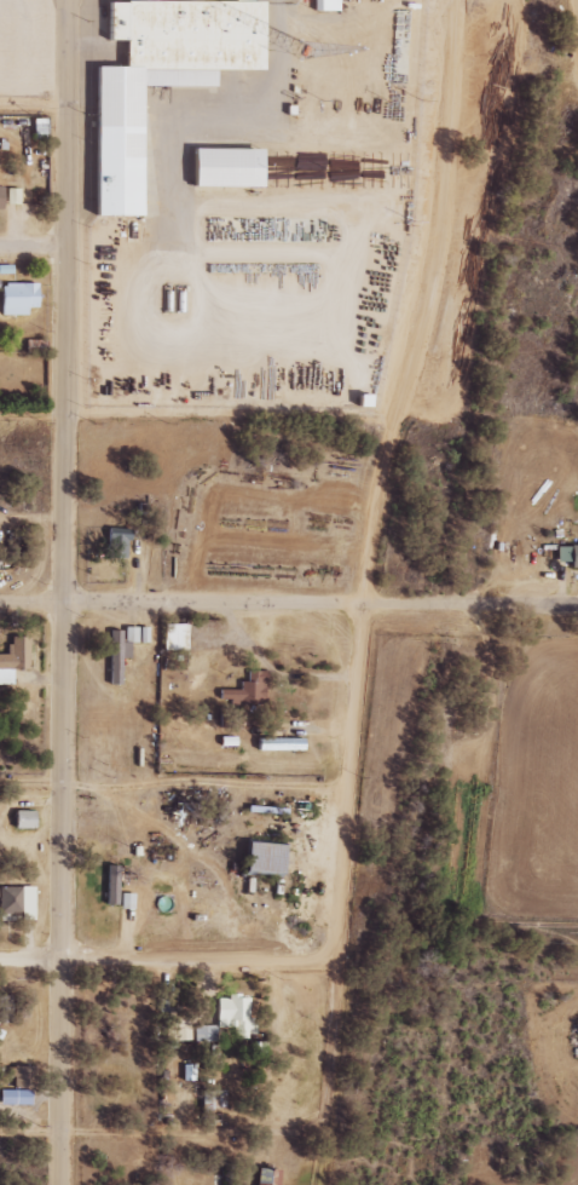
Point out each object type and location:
building: (322, 5)
building: (341, 7)
building: (177, 75)
road: (34, 109)
building: (238, 167)
building: (10, 196)
road: (33, 247)
building: (17, 298)
building: (376, 403)
road: (196, 420)
road: (378, 478)
building: (114, 543)
building: (567, 554)
road: (65, 592)
railway: (447, 592)
road: (289, 599)
building: (172, 637)
building: (120, 648)
building: (12, 658)
building: (244, 691)
building: (278, 744)
road: (31, 787)
building: (19, 819)
building: (260, 859)
building: (110, 886)
building: (8, 902)
building: (125, 902)
road: (168, 960)
building: (5, 1009)
building: (235, 1016)
building: (175, 1028)
building: (204, 1034)
building: (19, 1077)
building: (13, 1097)
building: (212, 1100)
road: (30, 1138)
building: (265, 1177)

